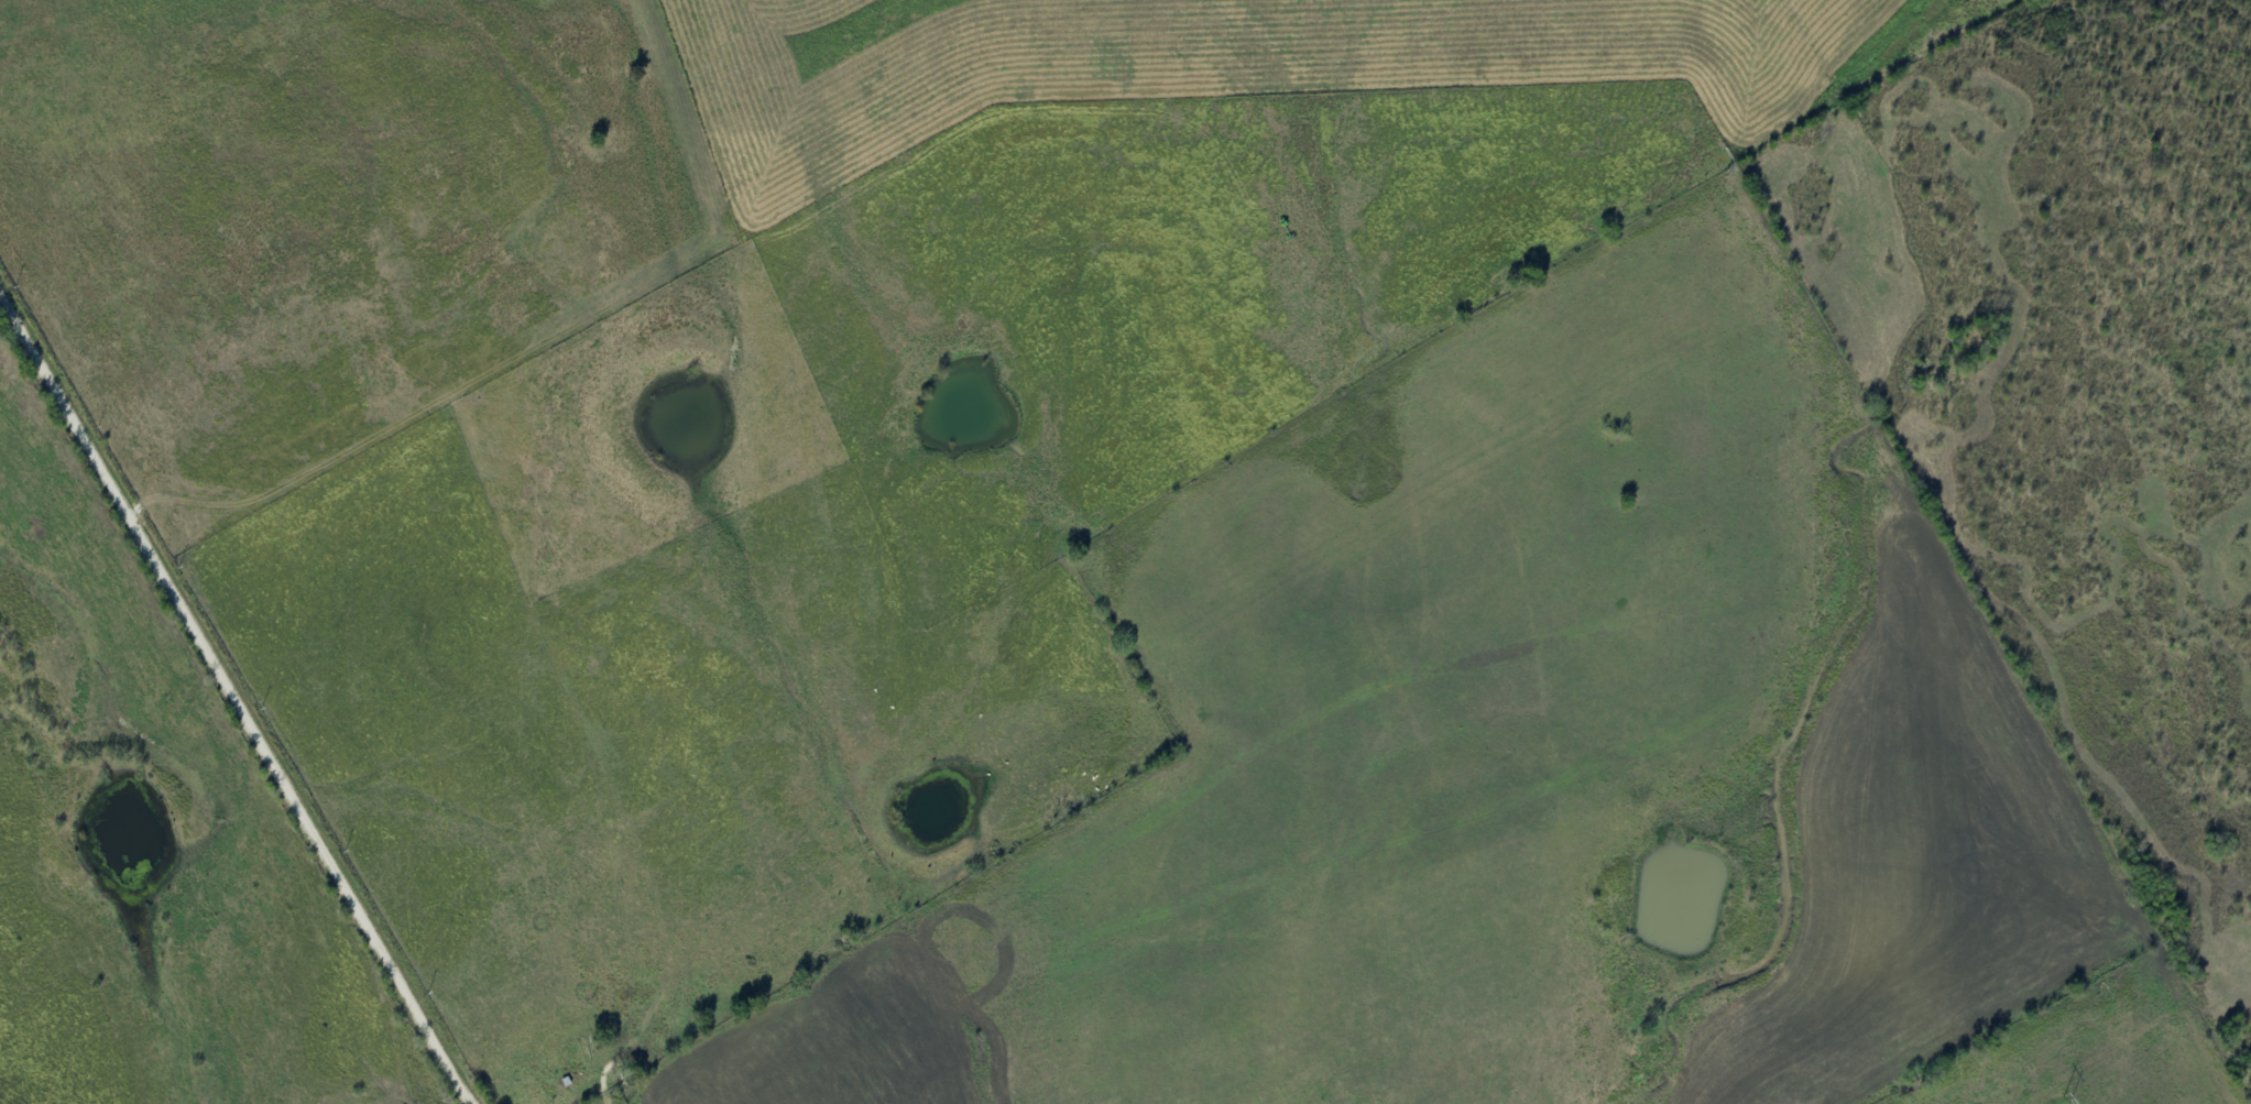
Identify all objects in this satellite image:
road: (240, 692)

